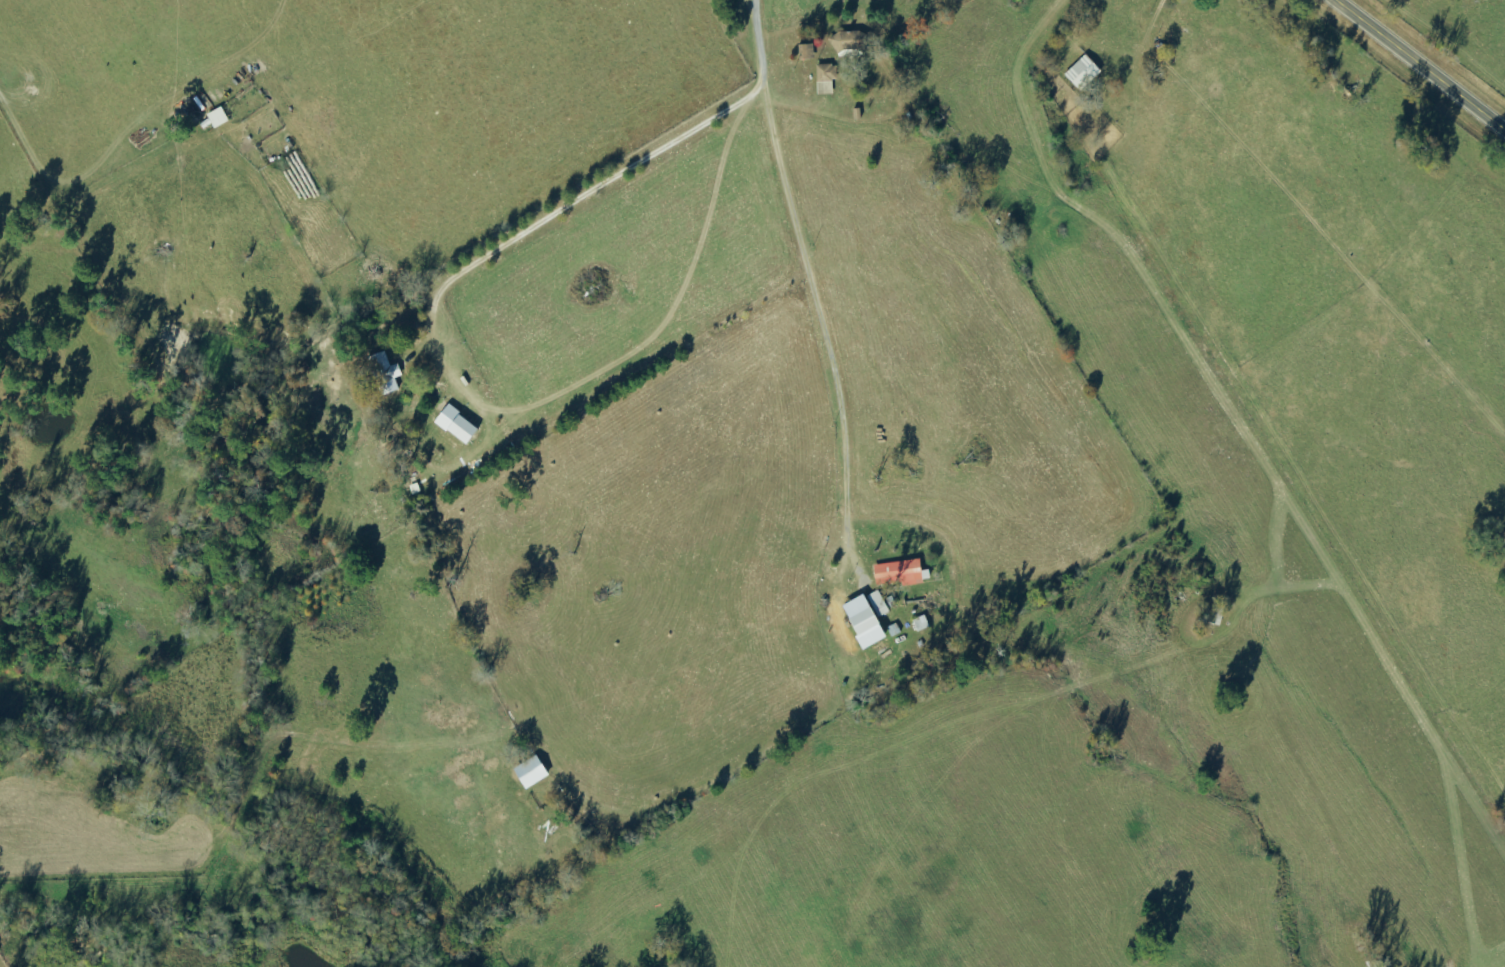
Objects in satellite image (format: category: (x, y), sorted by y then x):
building: (845, 41)
building: (805, 52)
road: (1419, 66)
building: (1081, 73)
building: (824, 80)
building: (216, 118)
building: (383, 373)
building: (454, 424)
building: (898, 573)
building: (876, 604)
building: (861, 621)
building: (892, 630)
building: (528, 772)

